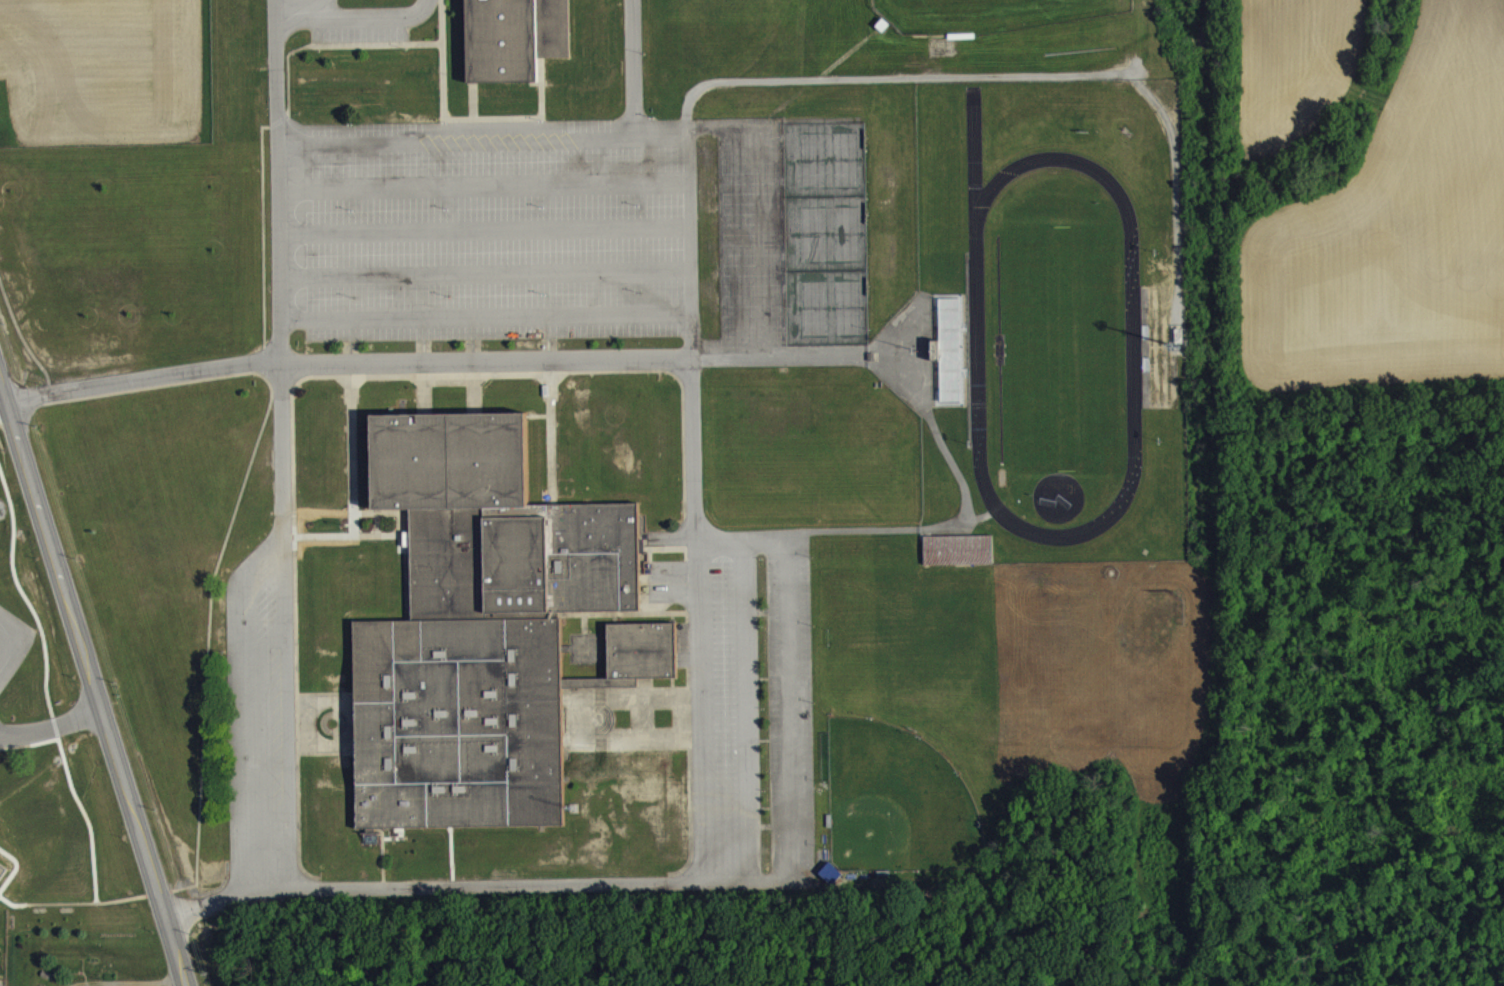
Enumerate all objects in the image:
road: (316, 9)
road: (291, 16)
road: (370, 18)
building: (513, 37)
road: (589, 149)
road: (277, 182)
park: (825, 232)
track: (977, 345)
building: (936, 361)
road: (3, 403)
road: (281, 548)
building: (958, 561)
building: (484, 626)
road: (698, 631)
parking lot: (12, 642)
road: (94, 683)
parking lot: (36, 728)
road: (52, 730)
road: (130, 981)

